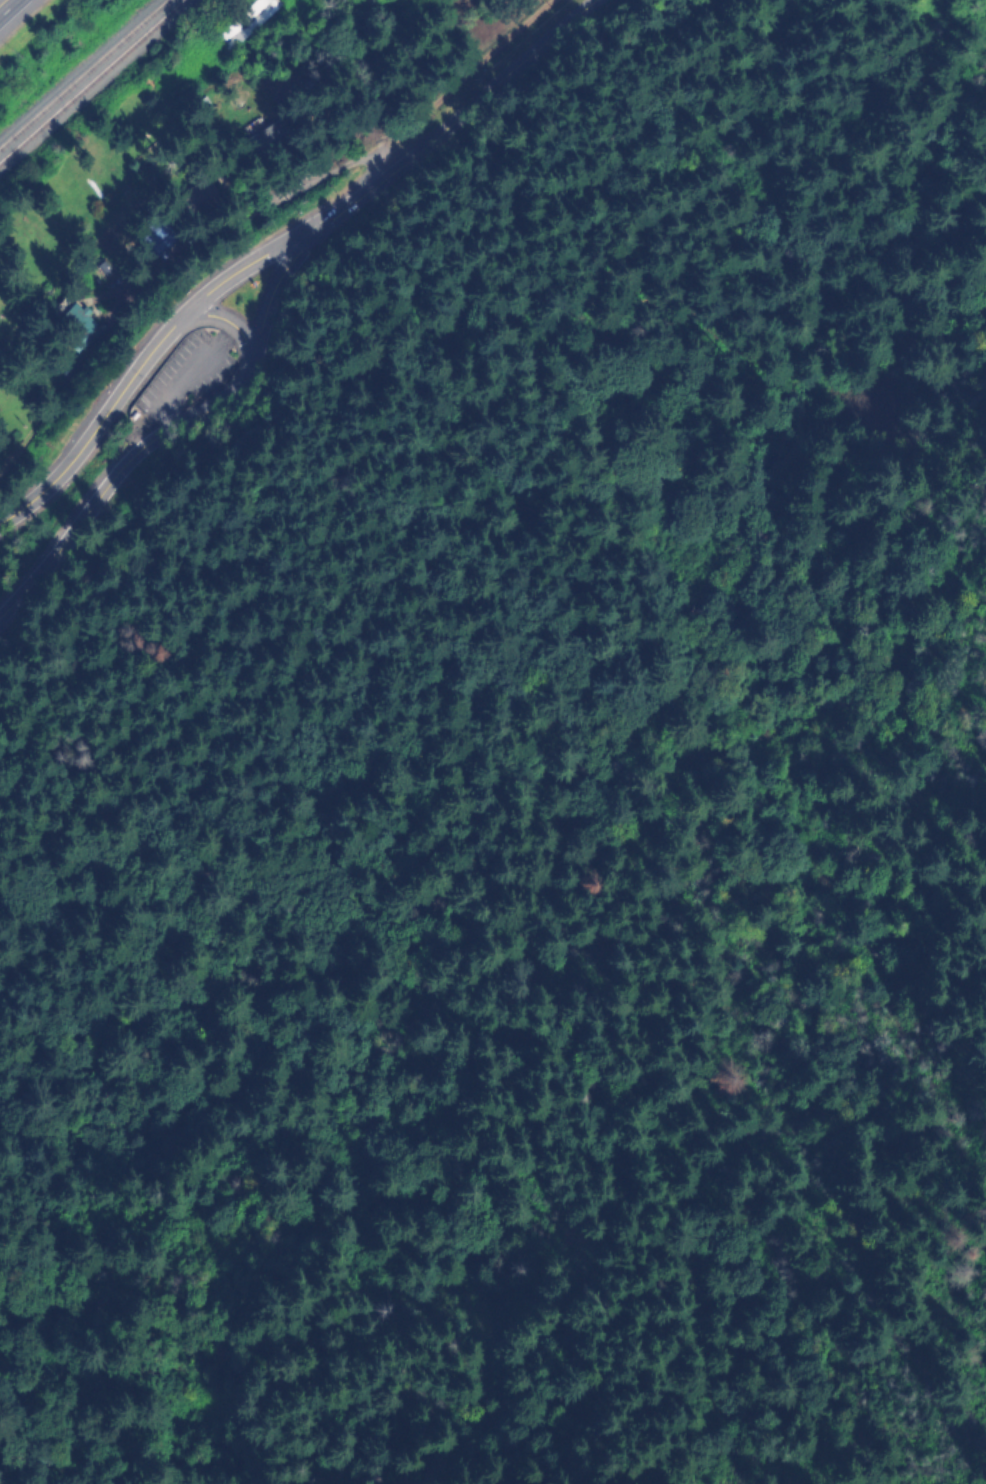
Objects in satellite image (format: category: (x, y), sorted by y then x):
road: (12, 11)
building: (248, 26)
railway: (84, 75)
railway: (95, 85)
building: (199, 105)
road: (452, 120)
building: (260, 137)
building: (187, 199)
building: (147, 238)
road: (243, 270)
building: (102, 272)
road: (272, 292)
road: (504, 306)
road: (225, 323)
building: (72, 329)
parking lot: (184, 370)
road: (173, 381)
road: (100, 427)
road: (116, 474)
road: (139, 596)

